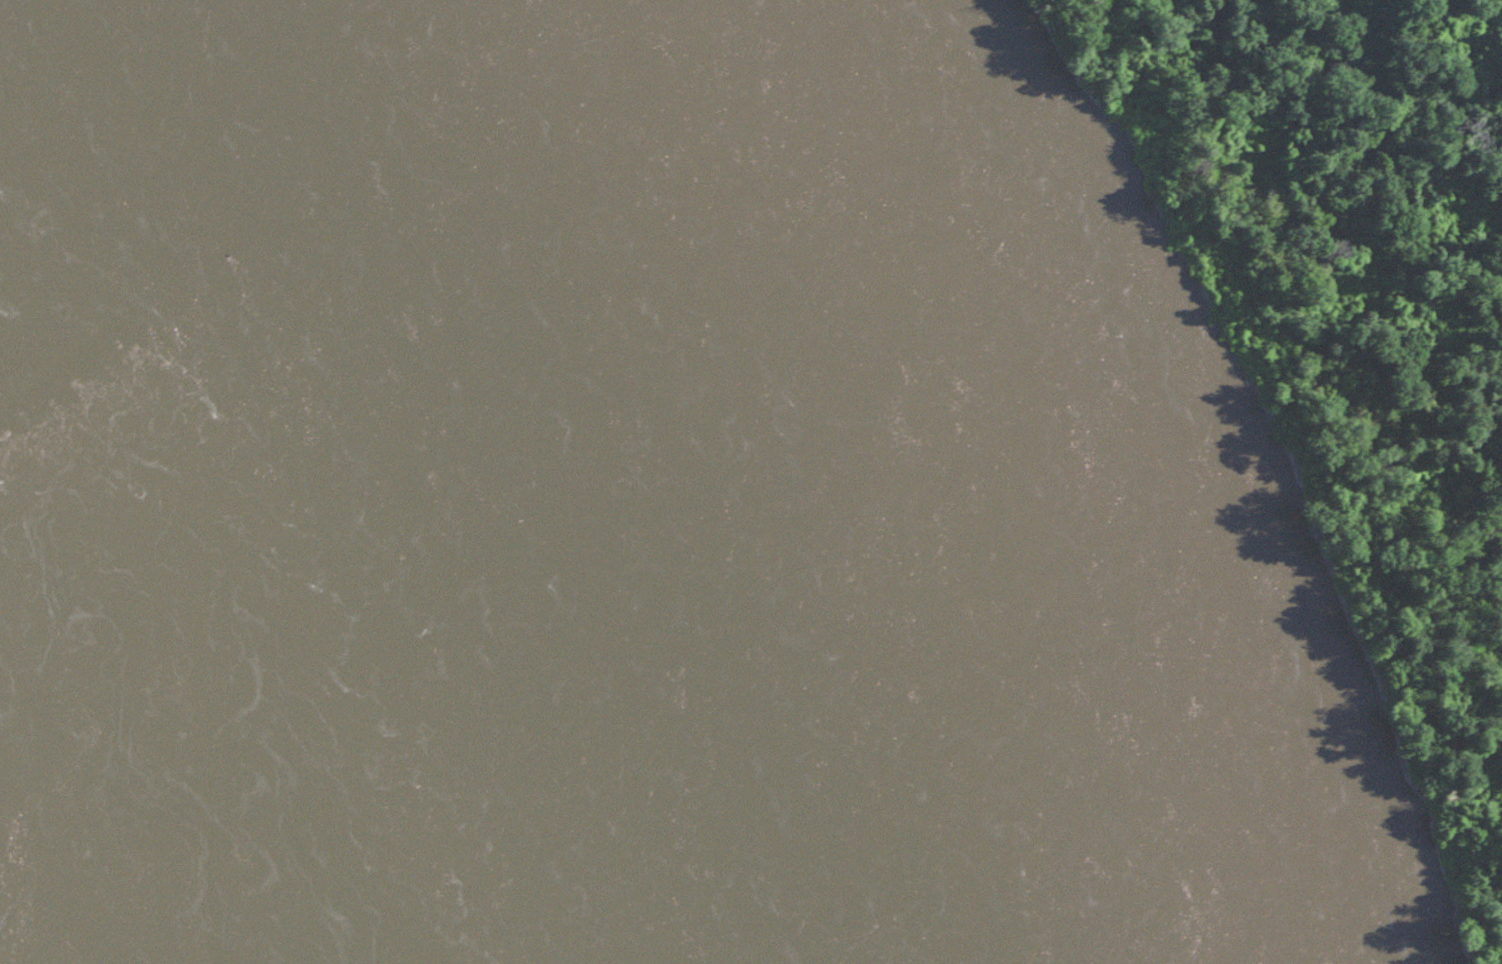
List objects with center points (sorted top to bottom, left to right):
river: (282, 482)

